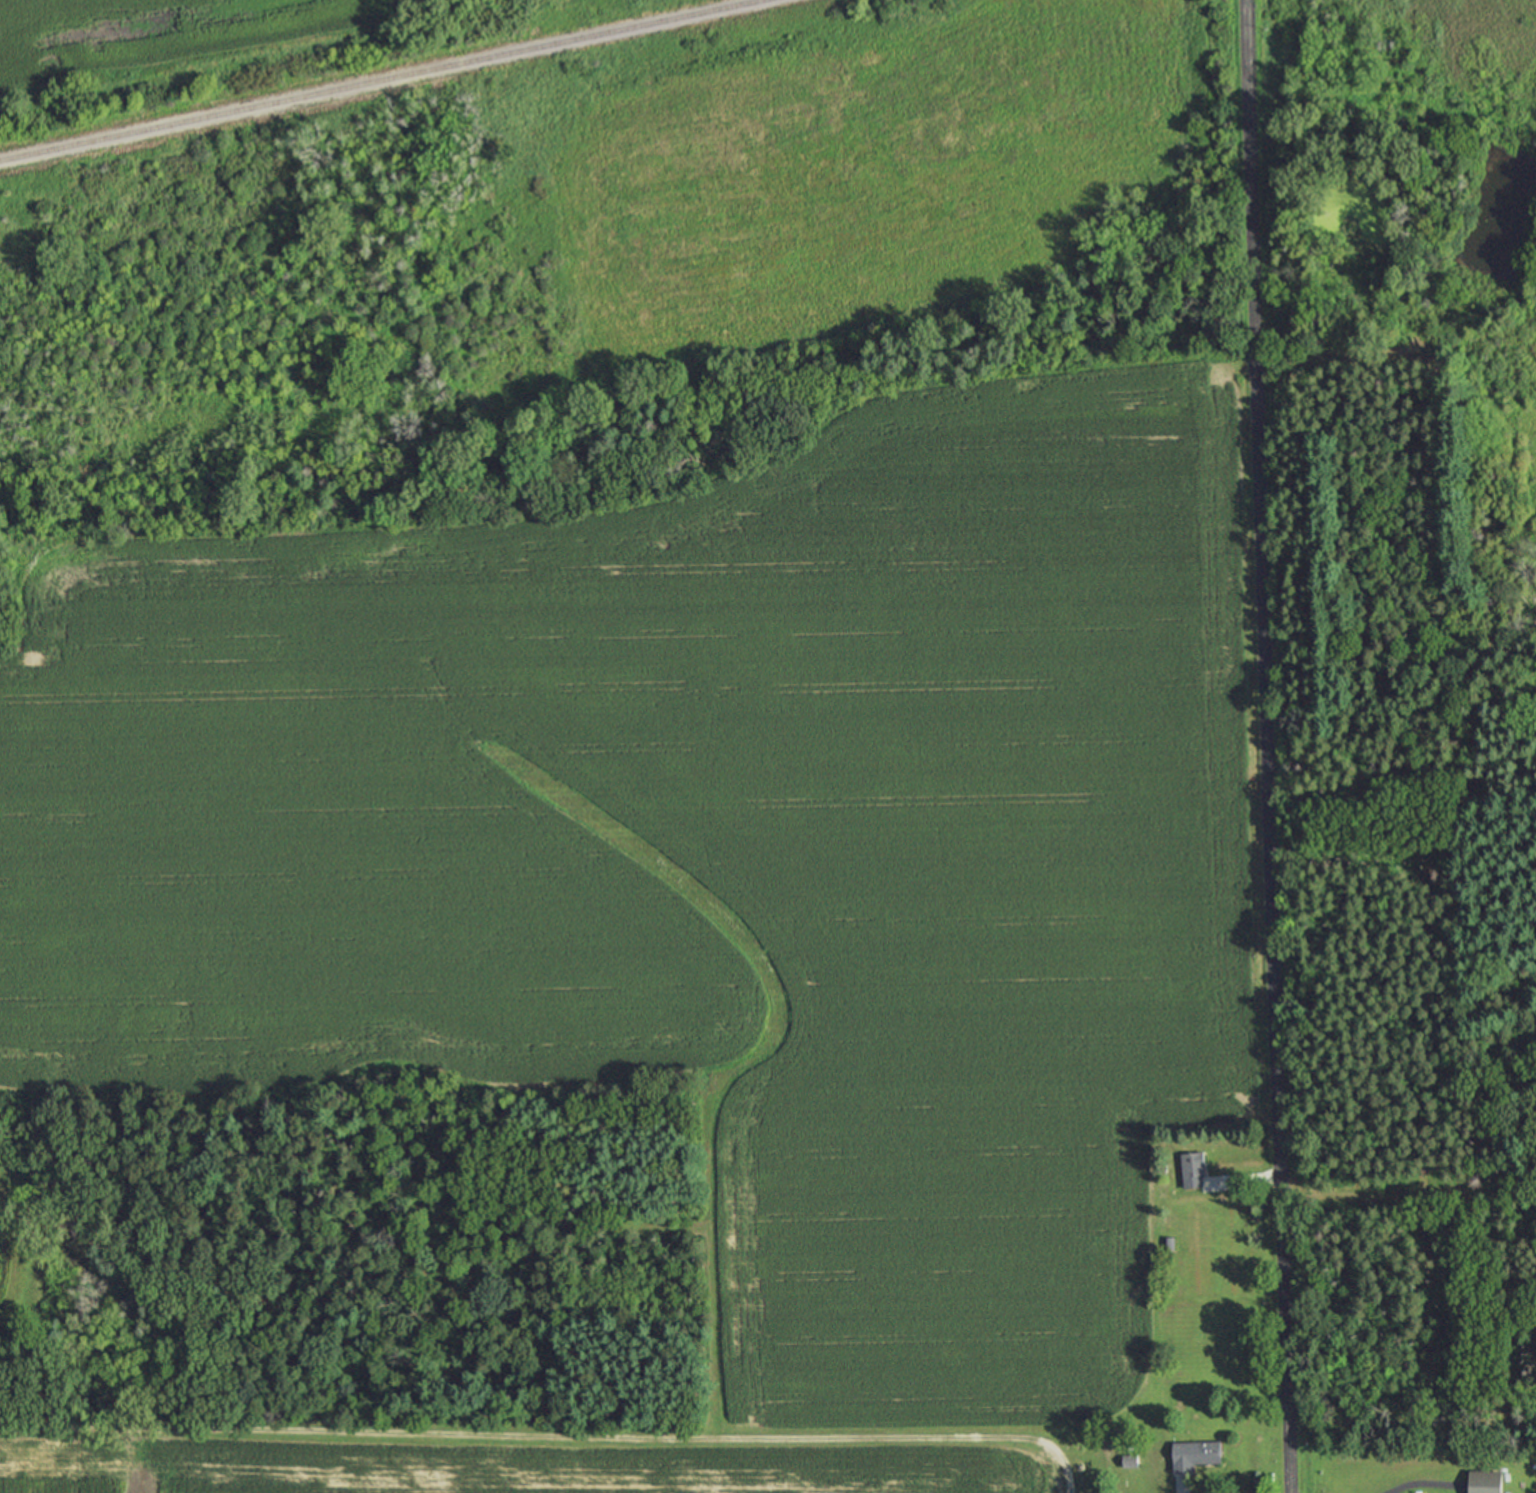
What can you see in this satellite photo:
railway: (379, 79)
road: (1268, 746)
building: (1190, 1170)
building: (1192, 1455)
building: (1127, 1462)
building: (1482, 1482)

